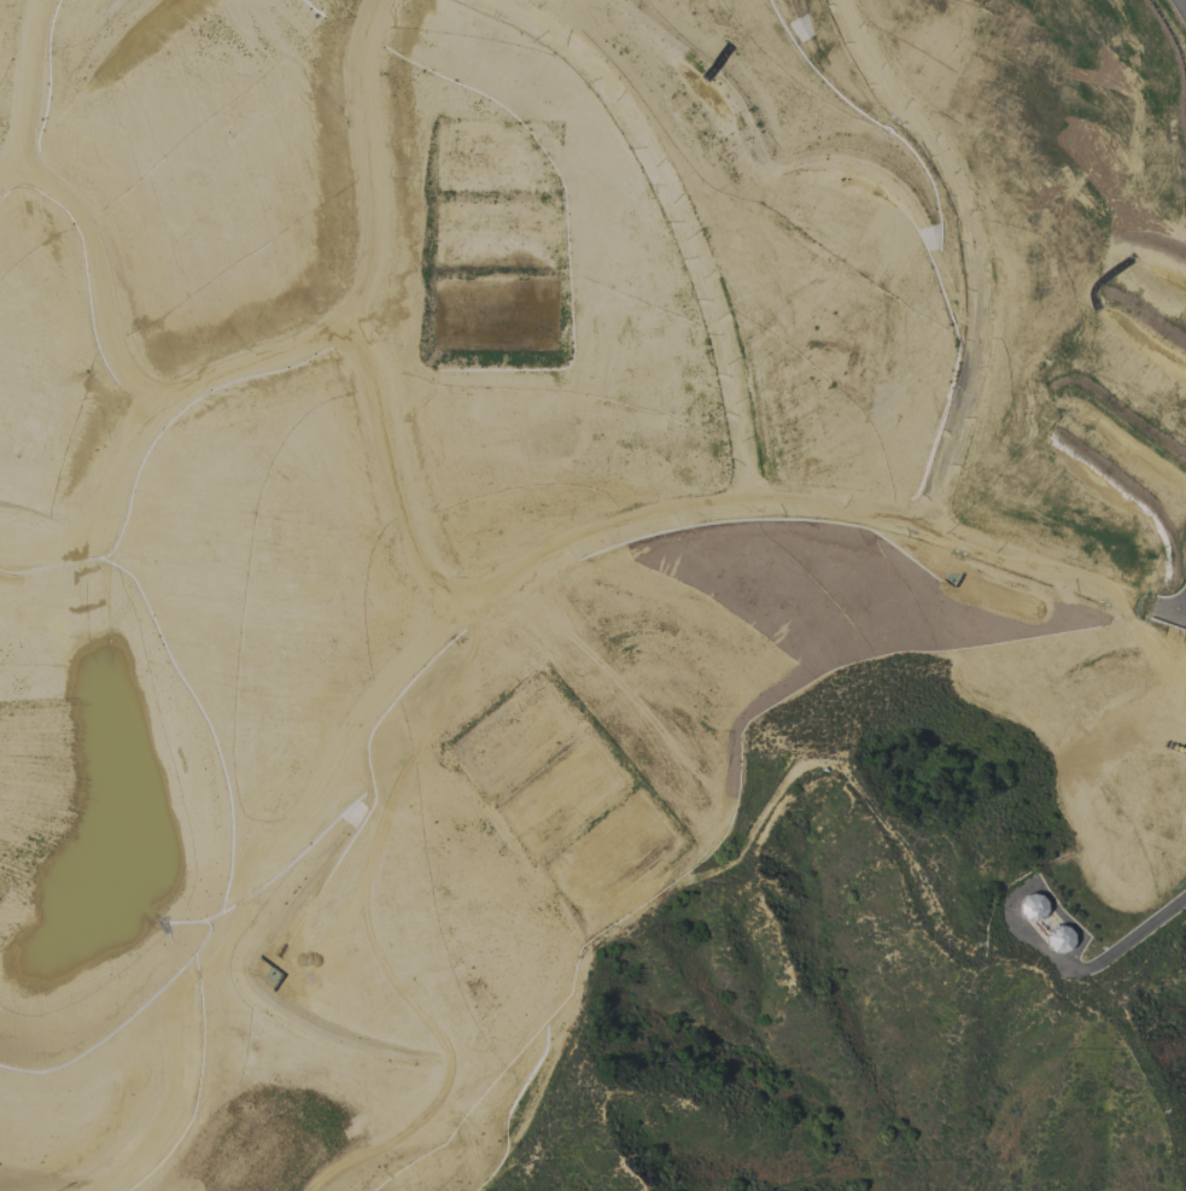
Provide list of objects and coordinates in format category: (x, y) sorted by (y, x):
road: (1182, 5)
park: (594, 413)
building: (1032, 906)
building: (1058, 939)
road: (1074, 969)

